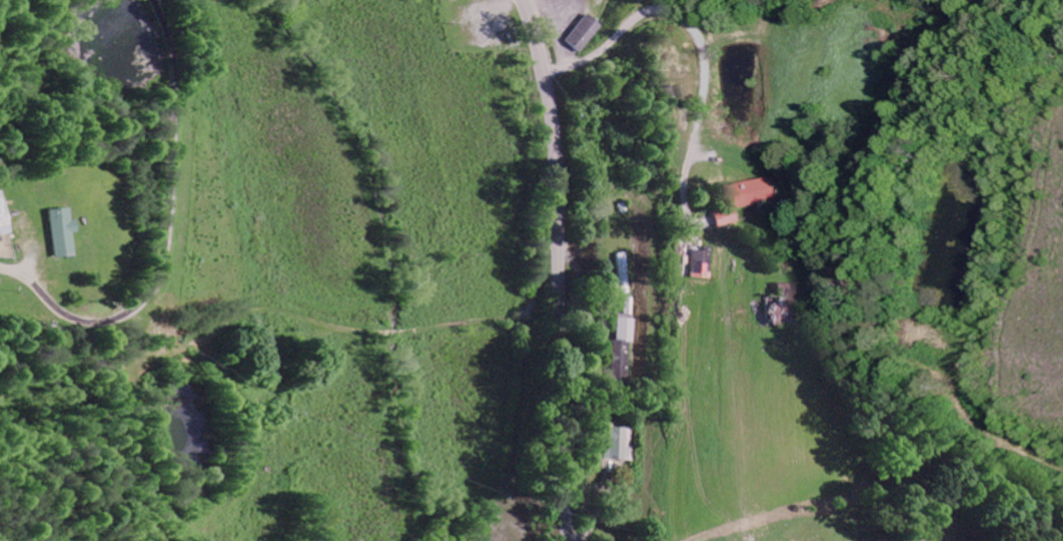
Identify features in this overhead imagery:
building: (584, 33)
building: (753, 192)
building: (721, 217)
building: (53, 232)
building: (699, 264)
road: (558, 268)
building: (620, 274)
building: (627, 305)
building: (780, 306)
building: (617, 349)
building: (613, 443)

